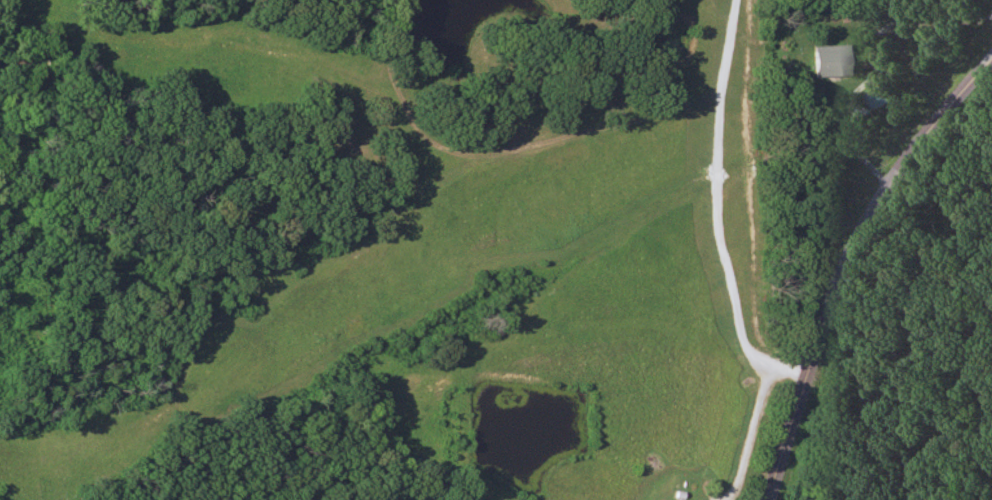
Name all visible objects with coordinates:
road: (872, 58)
building: (824, 62)
road: (717, 191)
road: (838, 254)
road: (748, 421)

